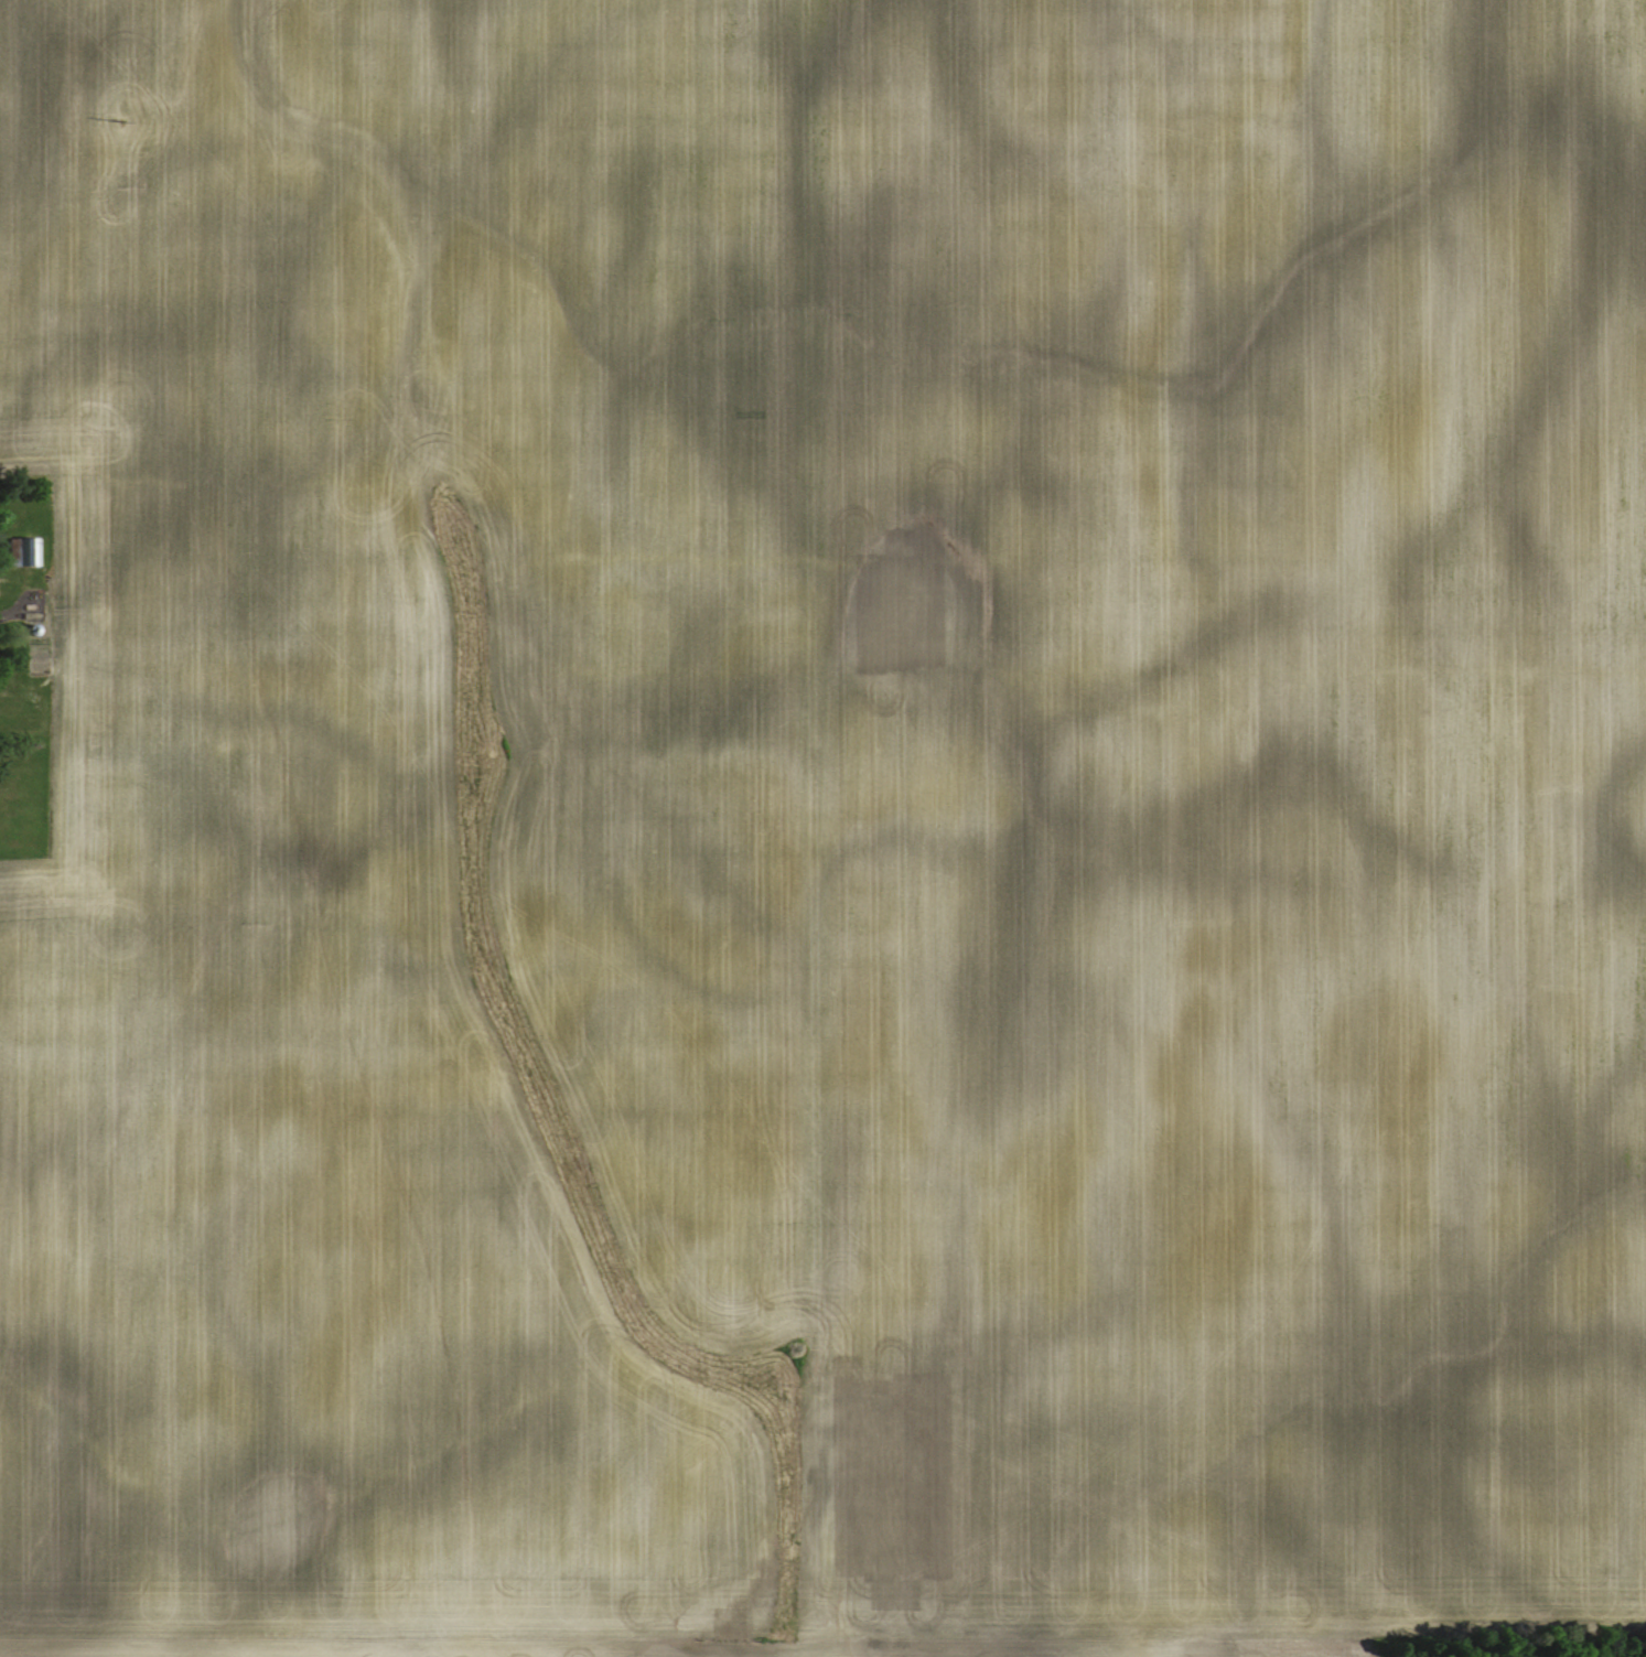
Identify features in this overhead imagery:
building: (25, 551)

